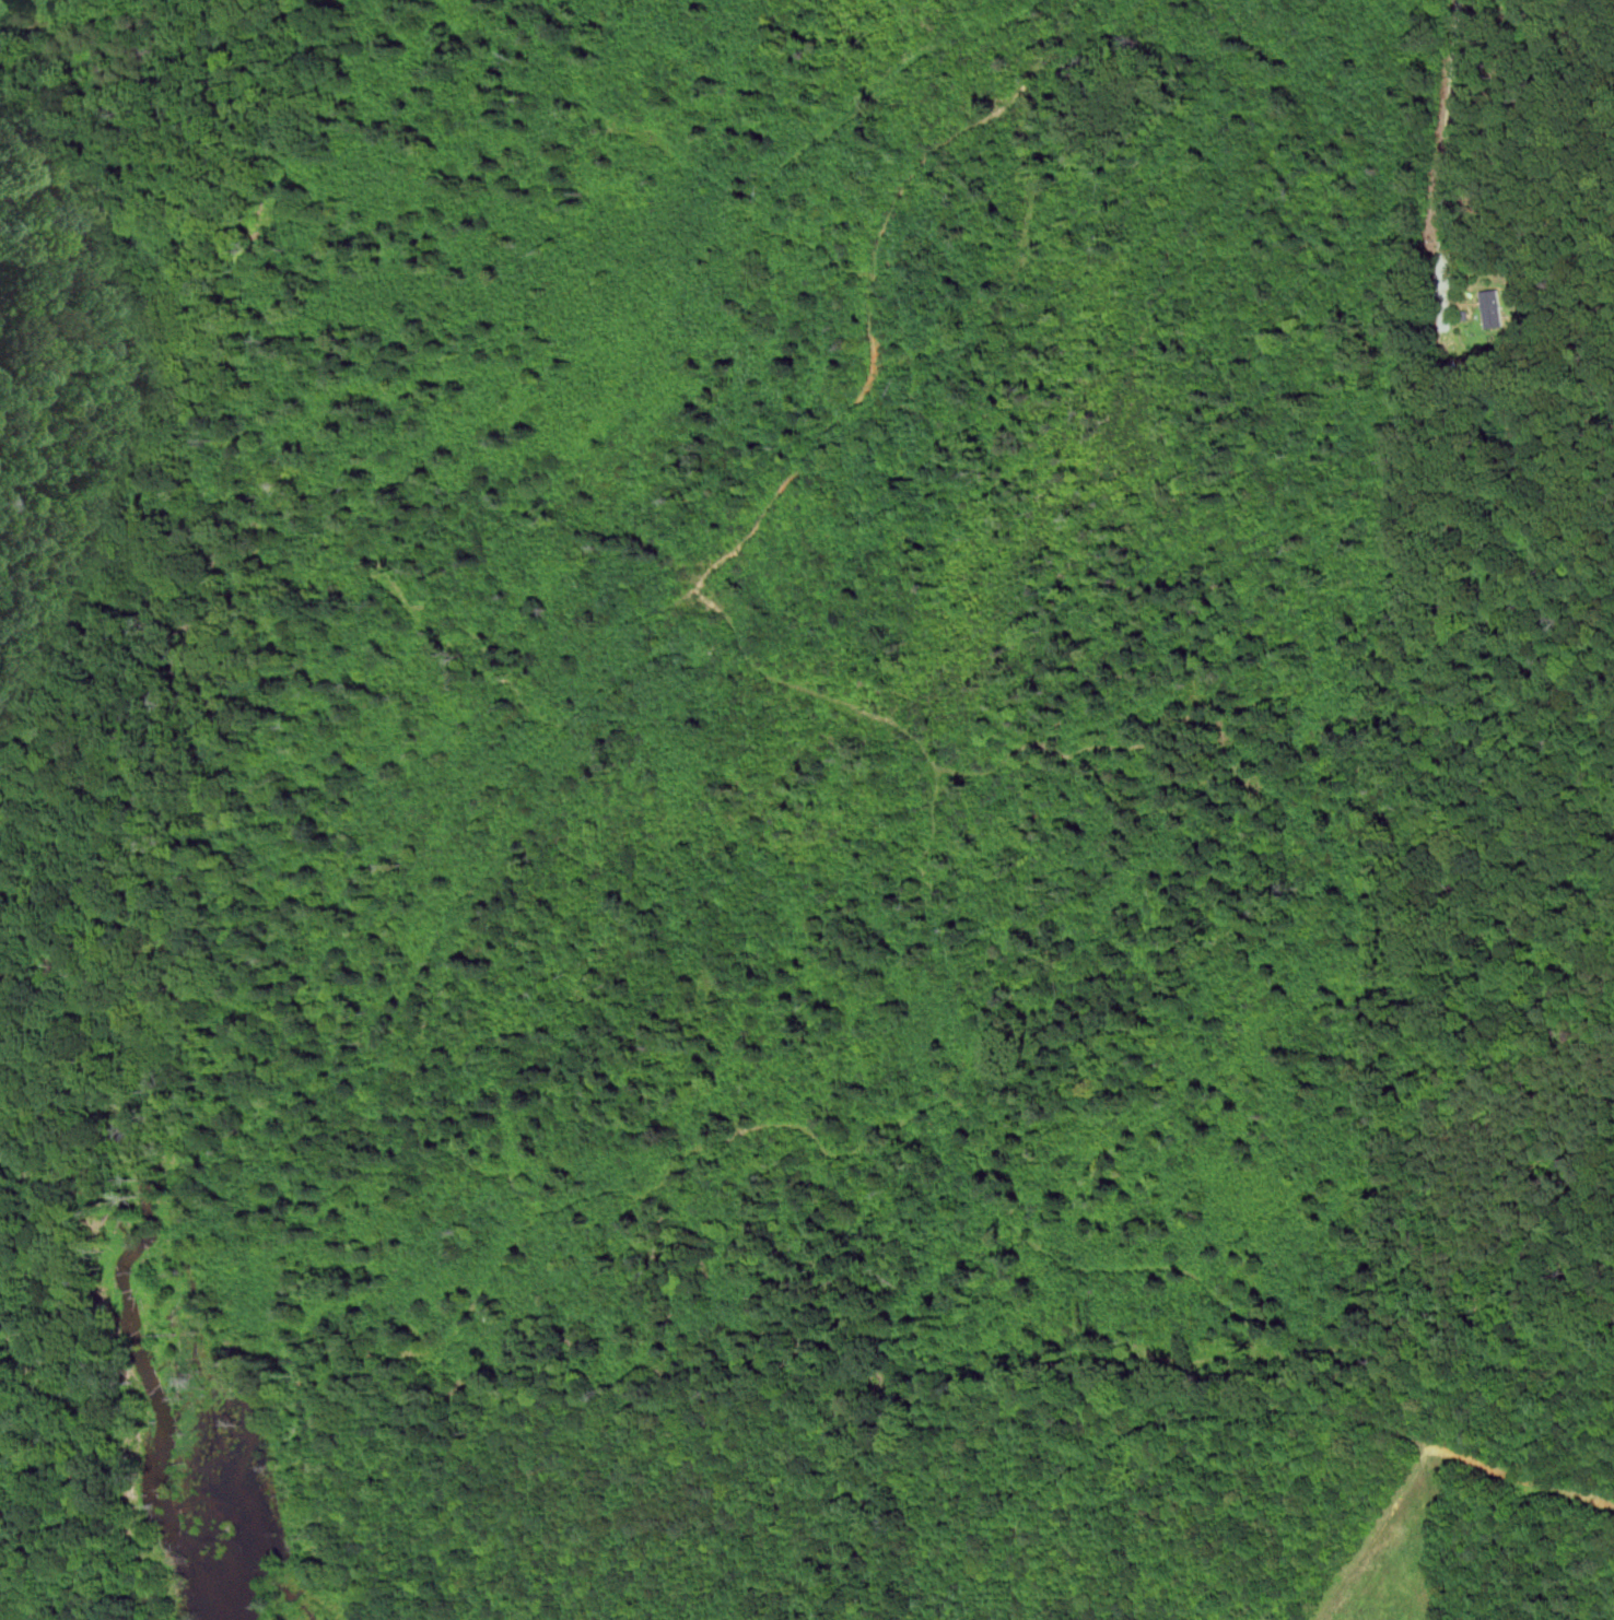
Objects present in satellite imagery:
road: (1451, 132)
building: (1492, 308)

